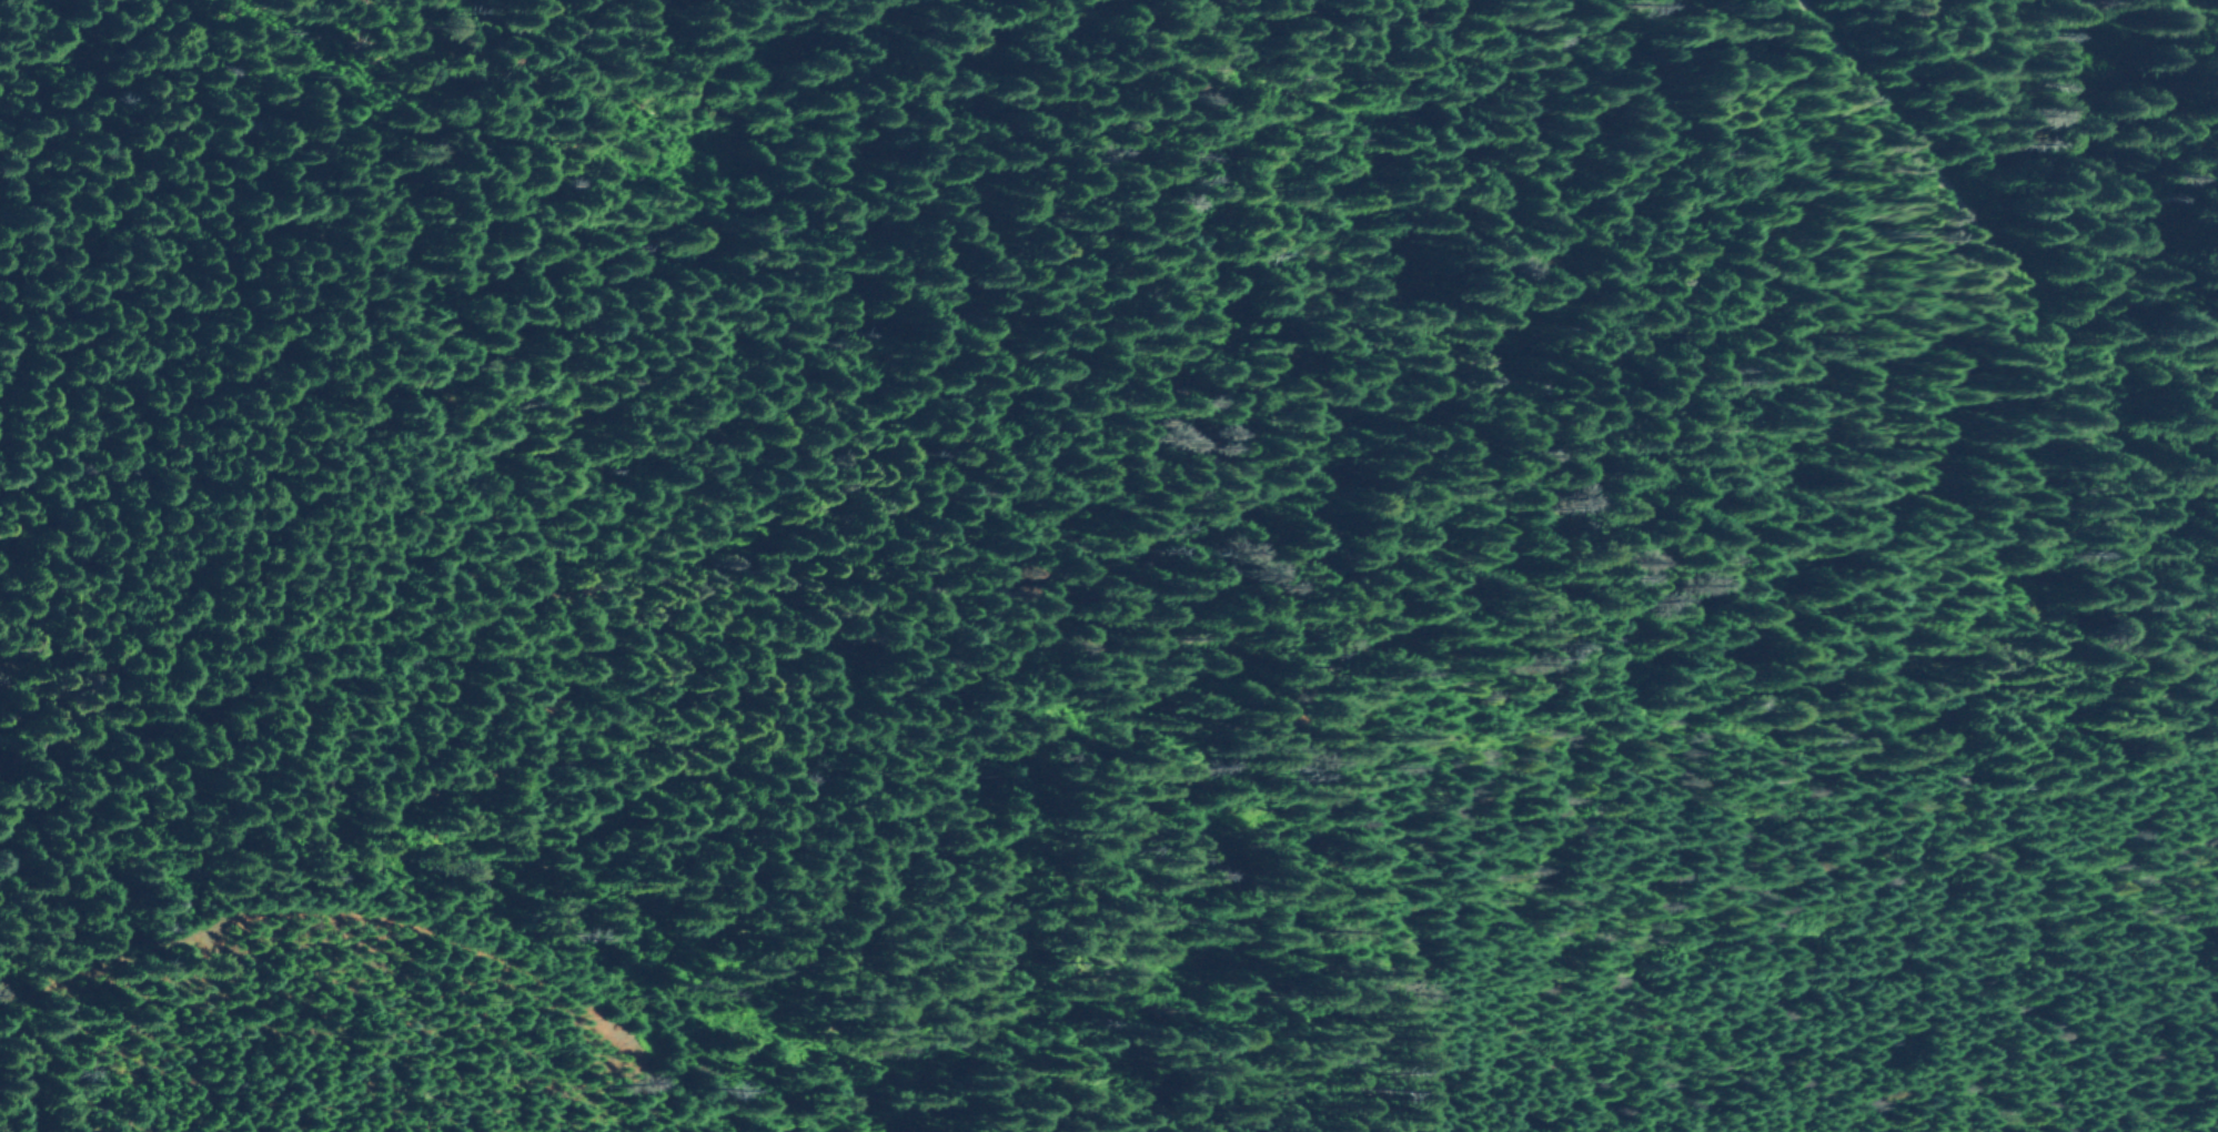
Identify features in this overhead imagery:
road: (2032, 293)
road: (364, 913)

